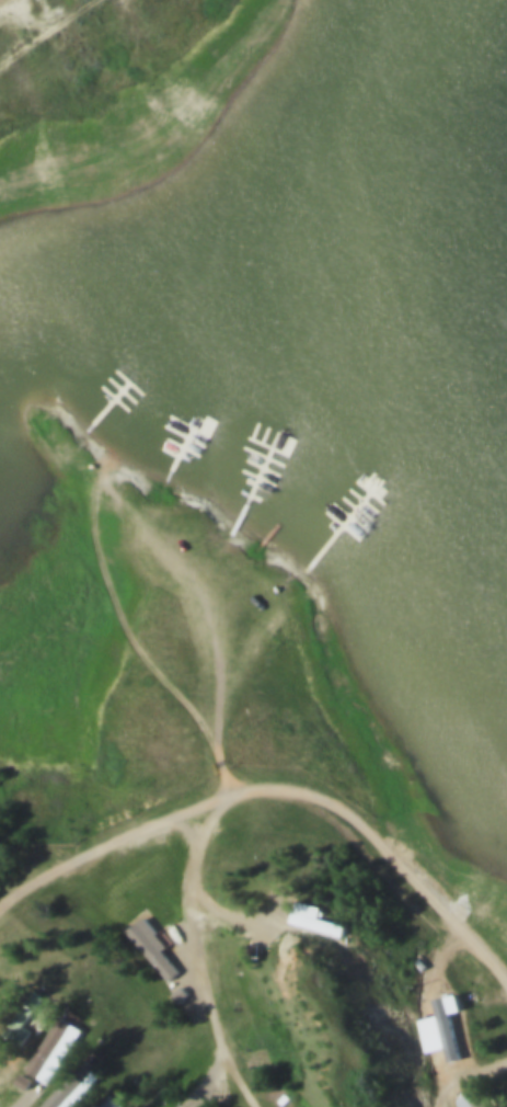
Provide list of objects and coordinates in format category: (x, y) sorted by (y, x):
road: (46, 34)
road: (172, 187)
road: (155, 395)
road: (45, 482)
road: (358, 703)
road: (244, 797)
road: (115, 800)
road: (102, 854)
building: (320, 916)
building: (154, 935)
road: (450, 997)
building: (27, 1008)
building: (446, 1028)
building: (50, 1036)
road: (466, 1075)
building: (73, 1080)
road: (216, 1089)
building: (2, 1096)
building: (111, 1096)
building: (464, 1098)

